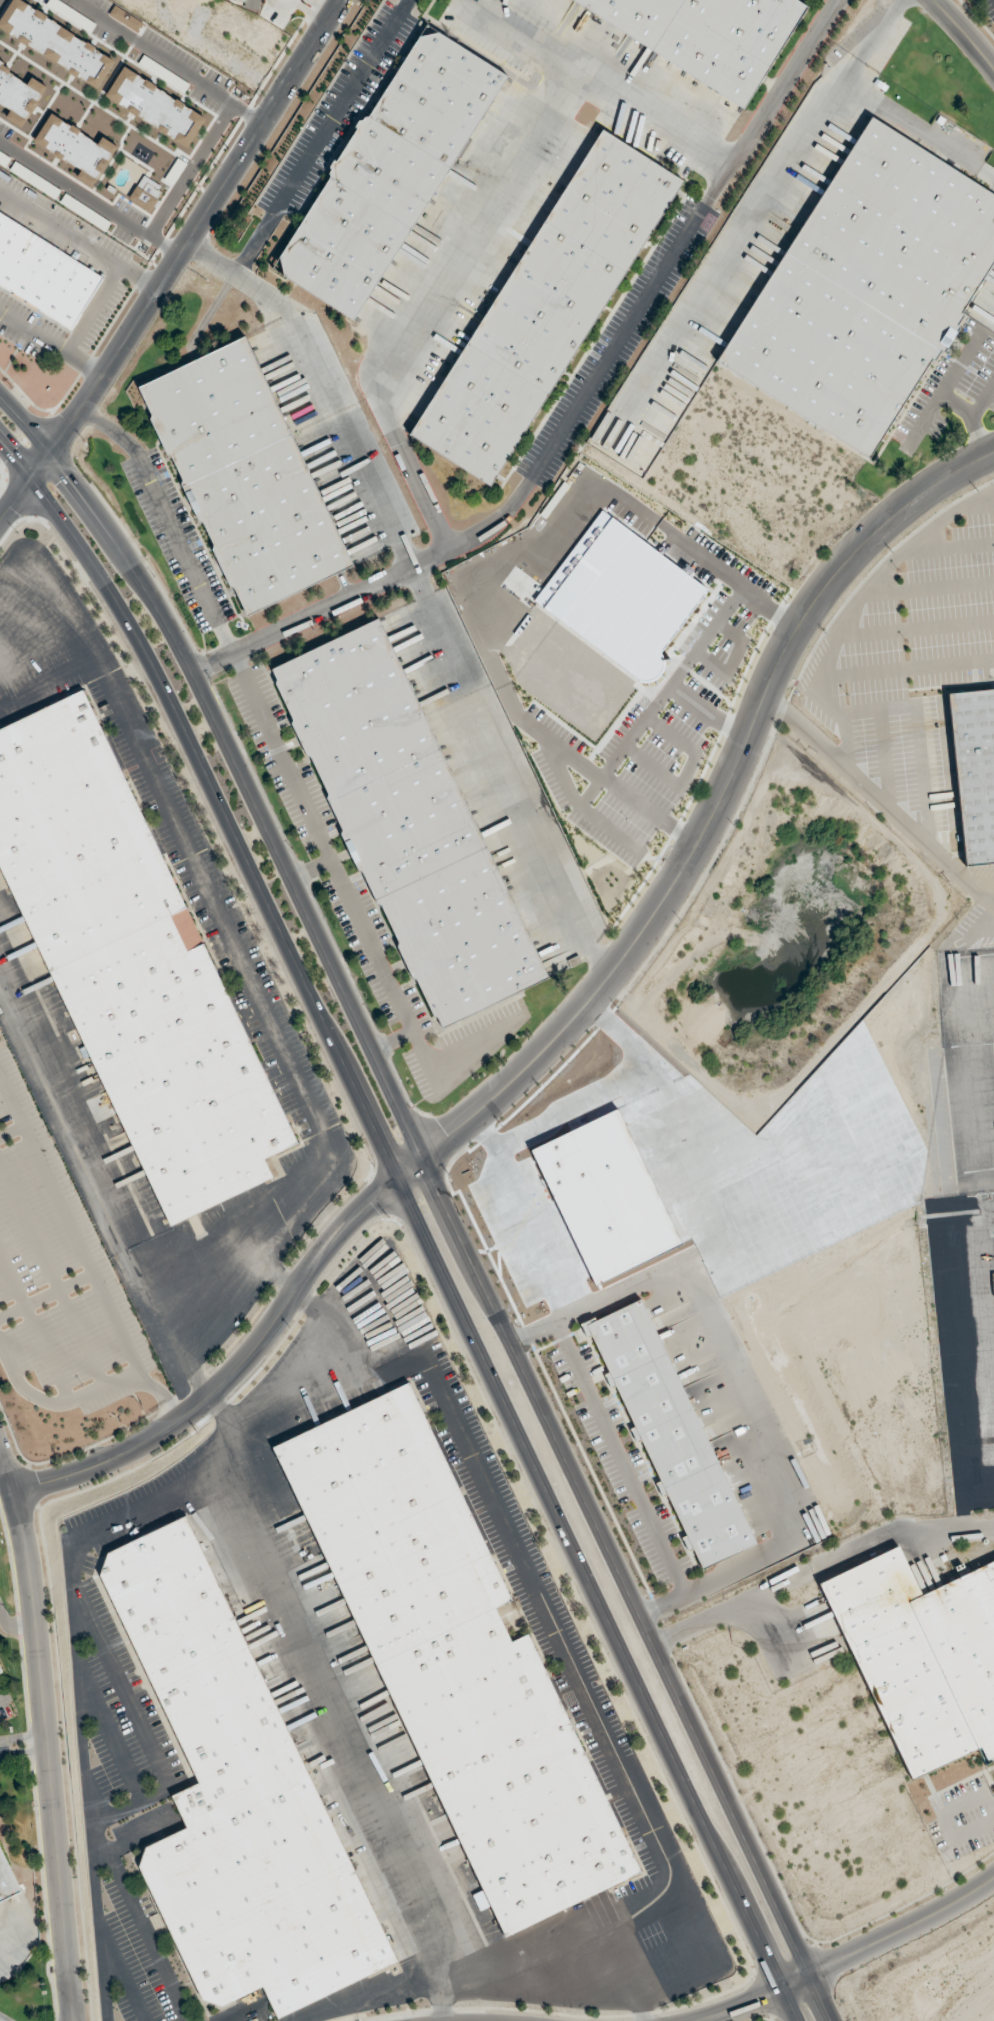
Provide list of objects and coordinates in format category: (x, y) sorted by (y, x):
building: (247, 3)
road: (965, 32)
building: (706, 36)
road: (868, 39)
road: (197, 80)
road: (606, 81)
road: (318, 137)
road: (783, 167)
building: (387, 172)
building: (614, 199)
road: (174, 263)
building: (42, 274)
building: (866, 288)
road: (429, 300)
building: (547, 305)
road: (325, 382)
road: (943, 390)
road: (983, 397)
road: (577, 405)
building: (478, 412)
road: (972, 417)
building: (244, 475)
road: (516, 556)
road: (854, 607)
road: (772, 608)
road: (906, 670)
building: (354, 709)
road: (709, 714)
building: (975, 769)
road: (507, 774)
road: (293, 780)
road: (571, 790)
road: (880, 798)
road: (216, 799)
road: (649, 808)
road: (709, 821)
building: (406, 823)
road: (310, 868)
building: (462, 937)
building: (132, 965)
road: (393, 1042)
road: (11, 1131)
road: (440, 1194)
road: (68, 1223)
road: (51, 1275)
road: (46, 1295)
road: (34, 1327)
road: (232, 1372)
road: (159, 1393)
road: (58, 1402)
building: (669, 1432)
road: (1, 1453)
road: (898, 1531)
road: (596, 1601)
road: (733, 1607)
road: (15, 1625)
building: (922, 1656)
building: (456, 1662)
building: (0, 1670)
building: (1, 1684)
road: (4, 1697)
road: (46, 1731)
road: (23, 1738)
road: (24, 1752)
building: (238, 1799)
building: (7, 1880)
road: (849, 1954)

